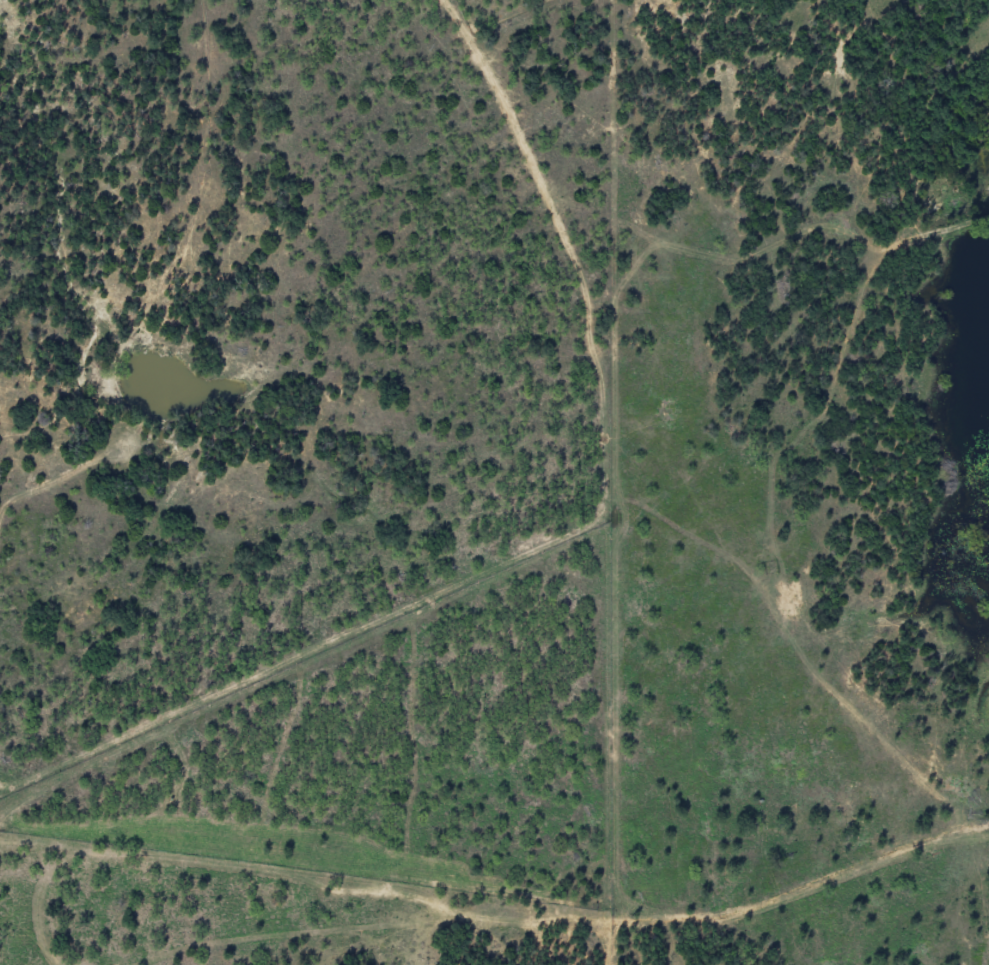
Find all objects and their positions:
road: (25, 947)

